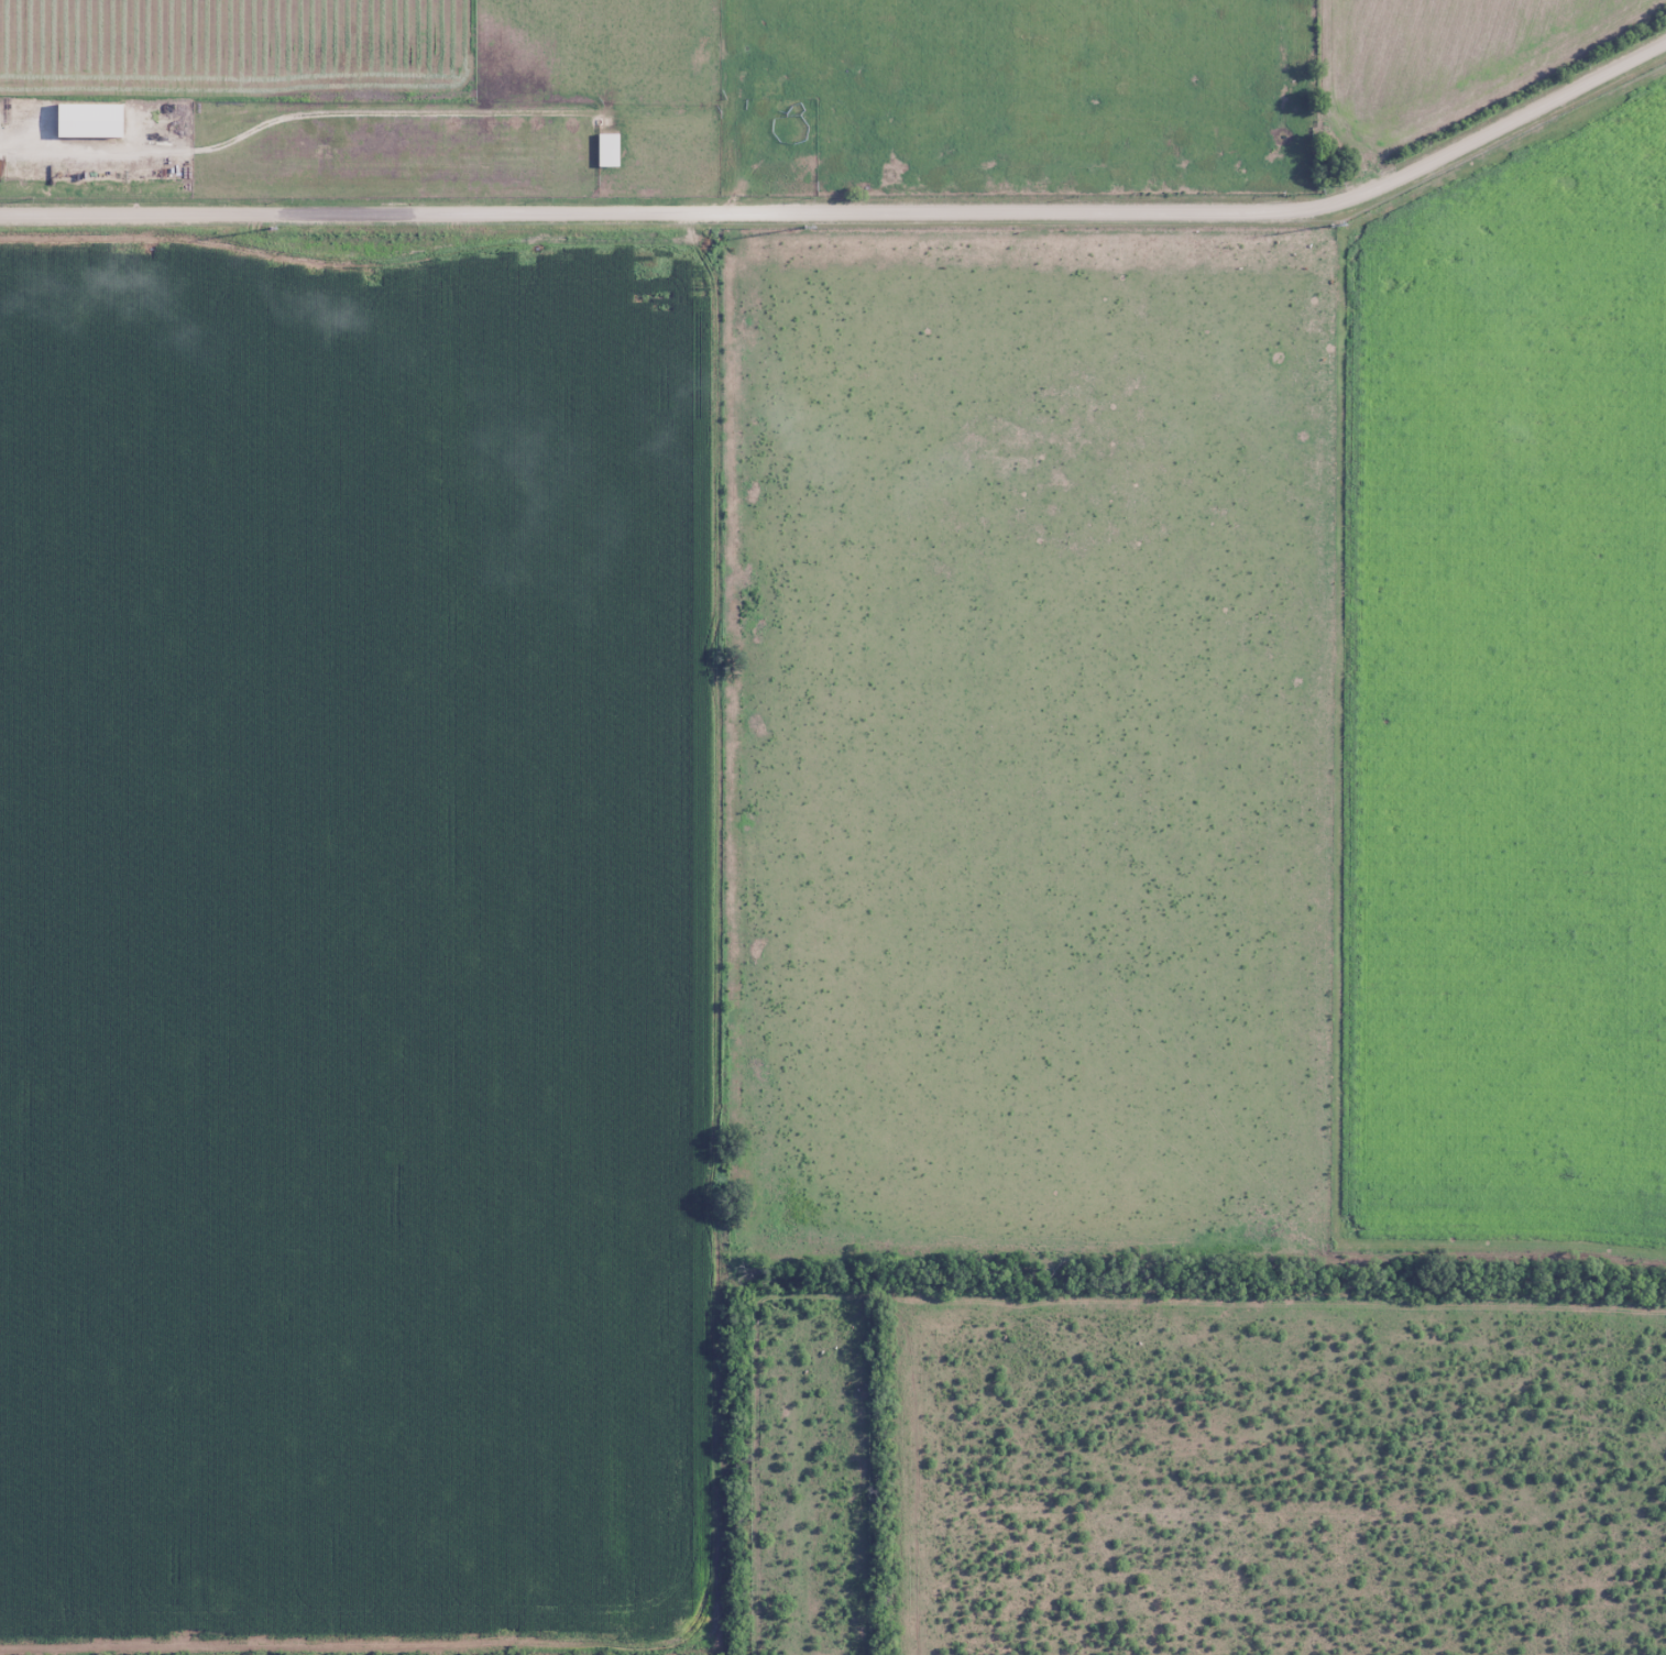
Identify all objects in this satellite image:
road: (280, 119)
building: (609, 151)
road: (852, 211)
power tower: (1333, 226)
power tower: (804, 228)
power tower: (271, 229)

